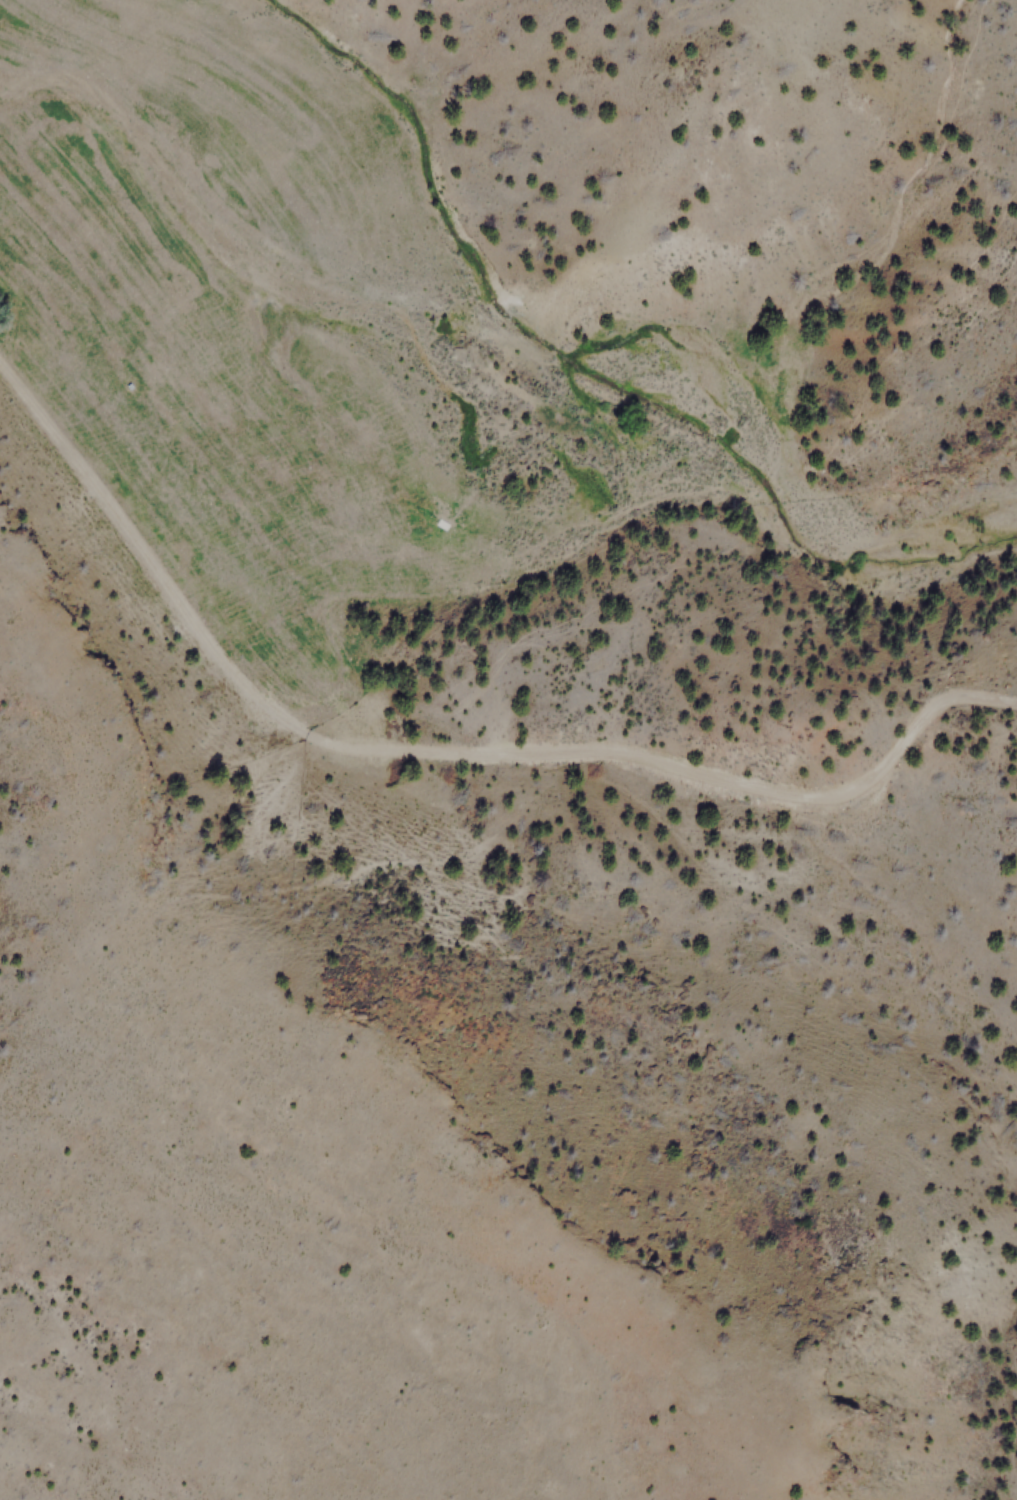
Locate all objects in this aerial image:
road: (518, 748)

